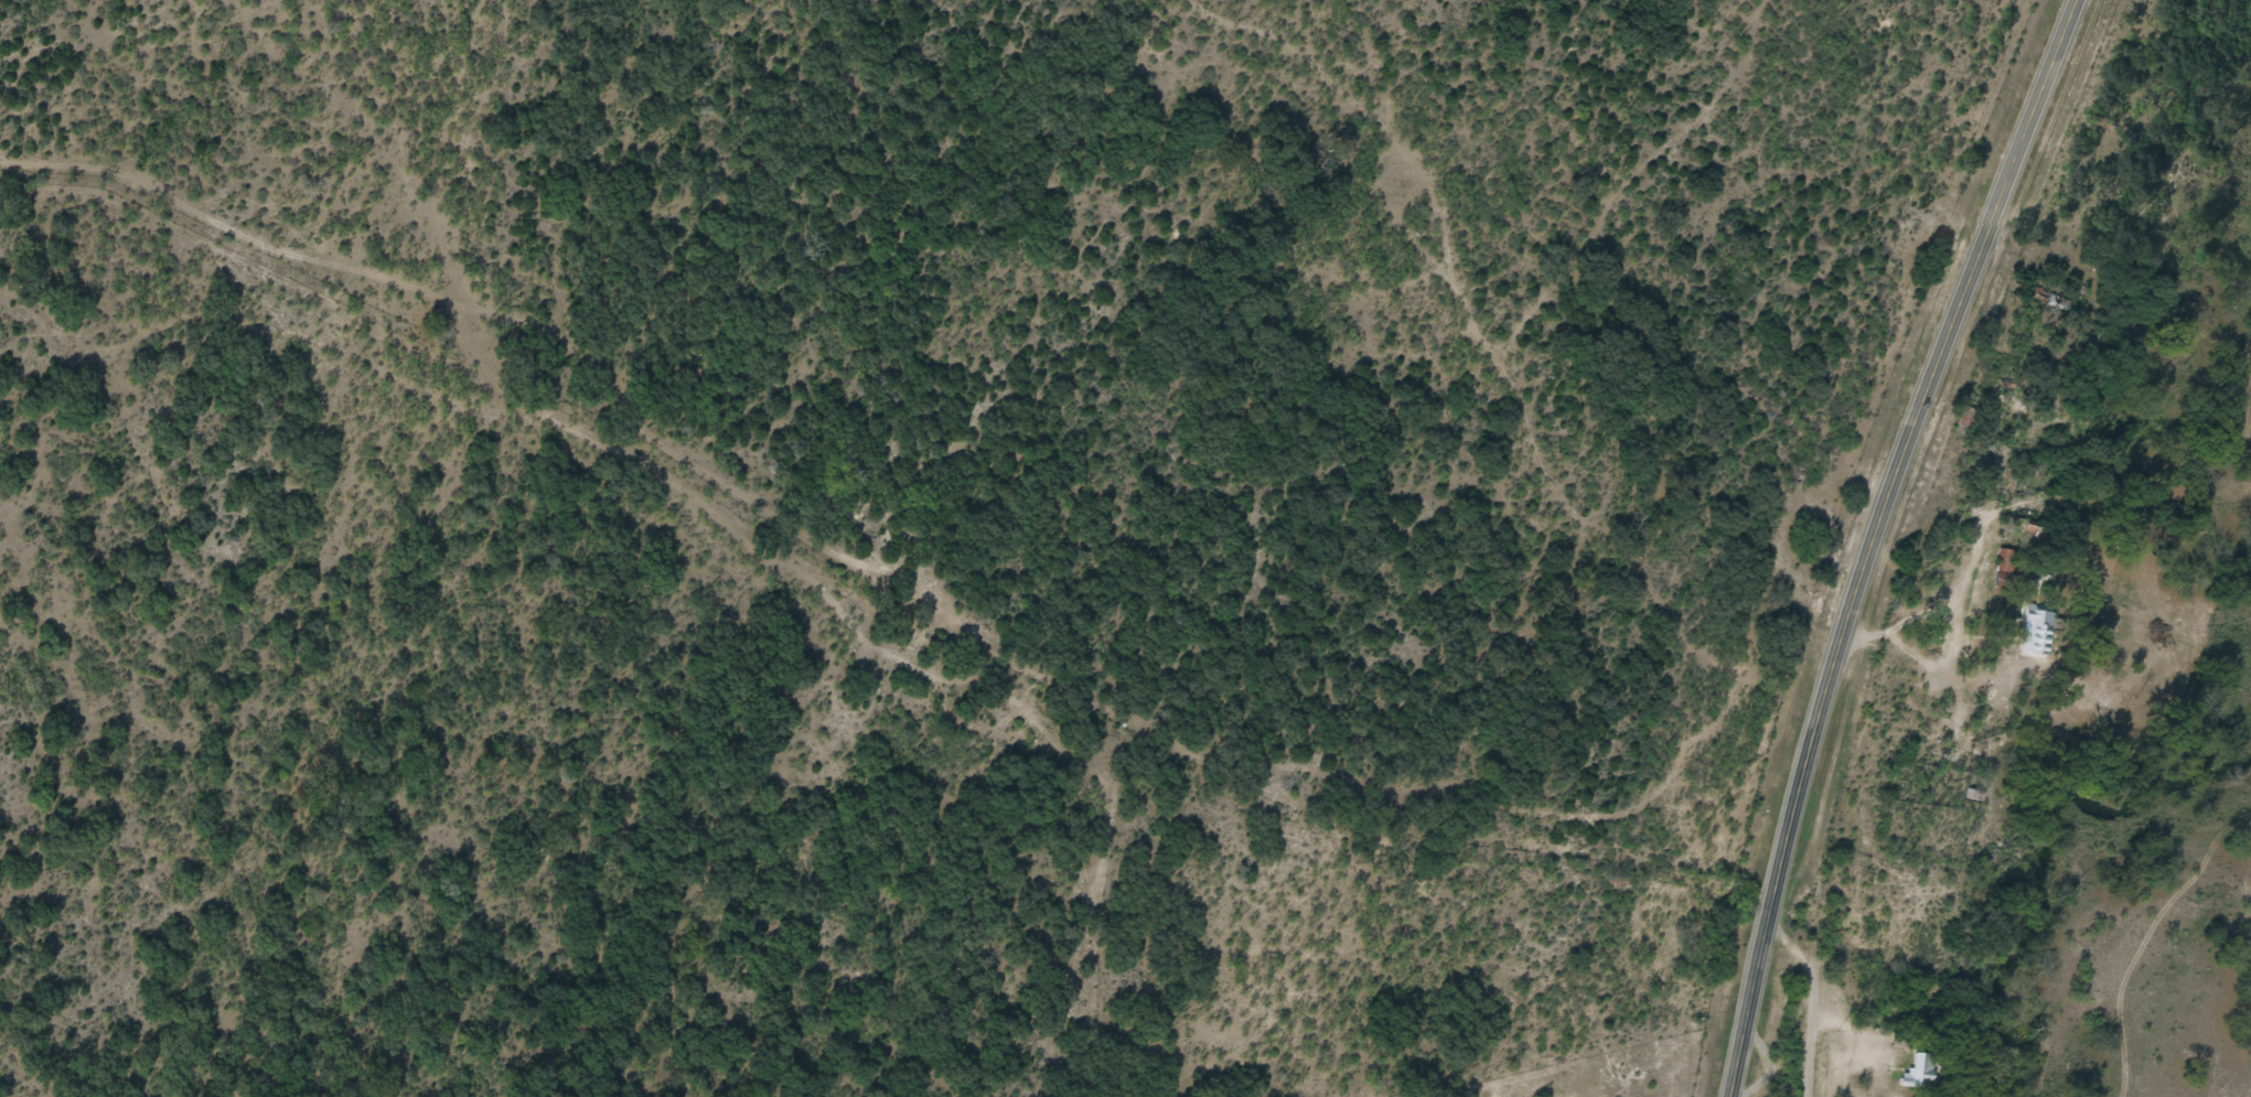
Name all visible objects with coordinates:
road: (1488, 324)
building: (1982, 456)
road: (1876, 539)
building: (2004, 572)
road: (946, 605)
building: (2036, 632)
building: (1970, 794)
road: (1813, 997)
building: (1915, 1072)
park: (1632, 1084)

